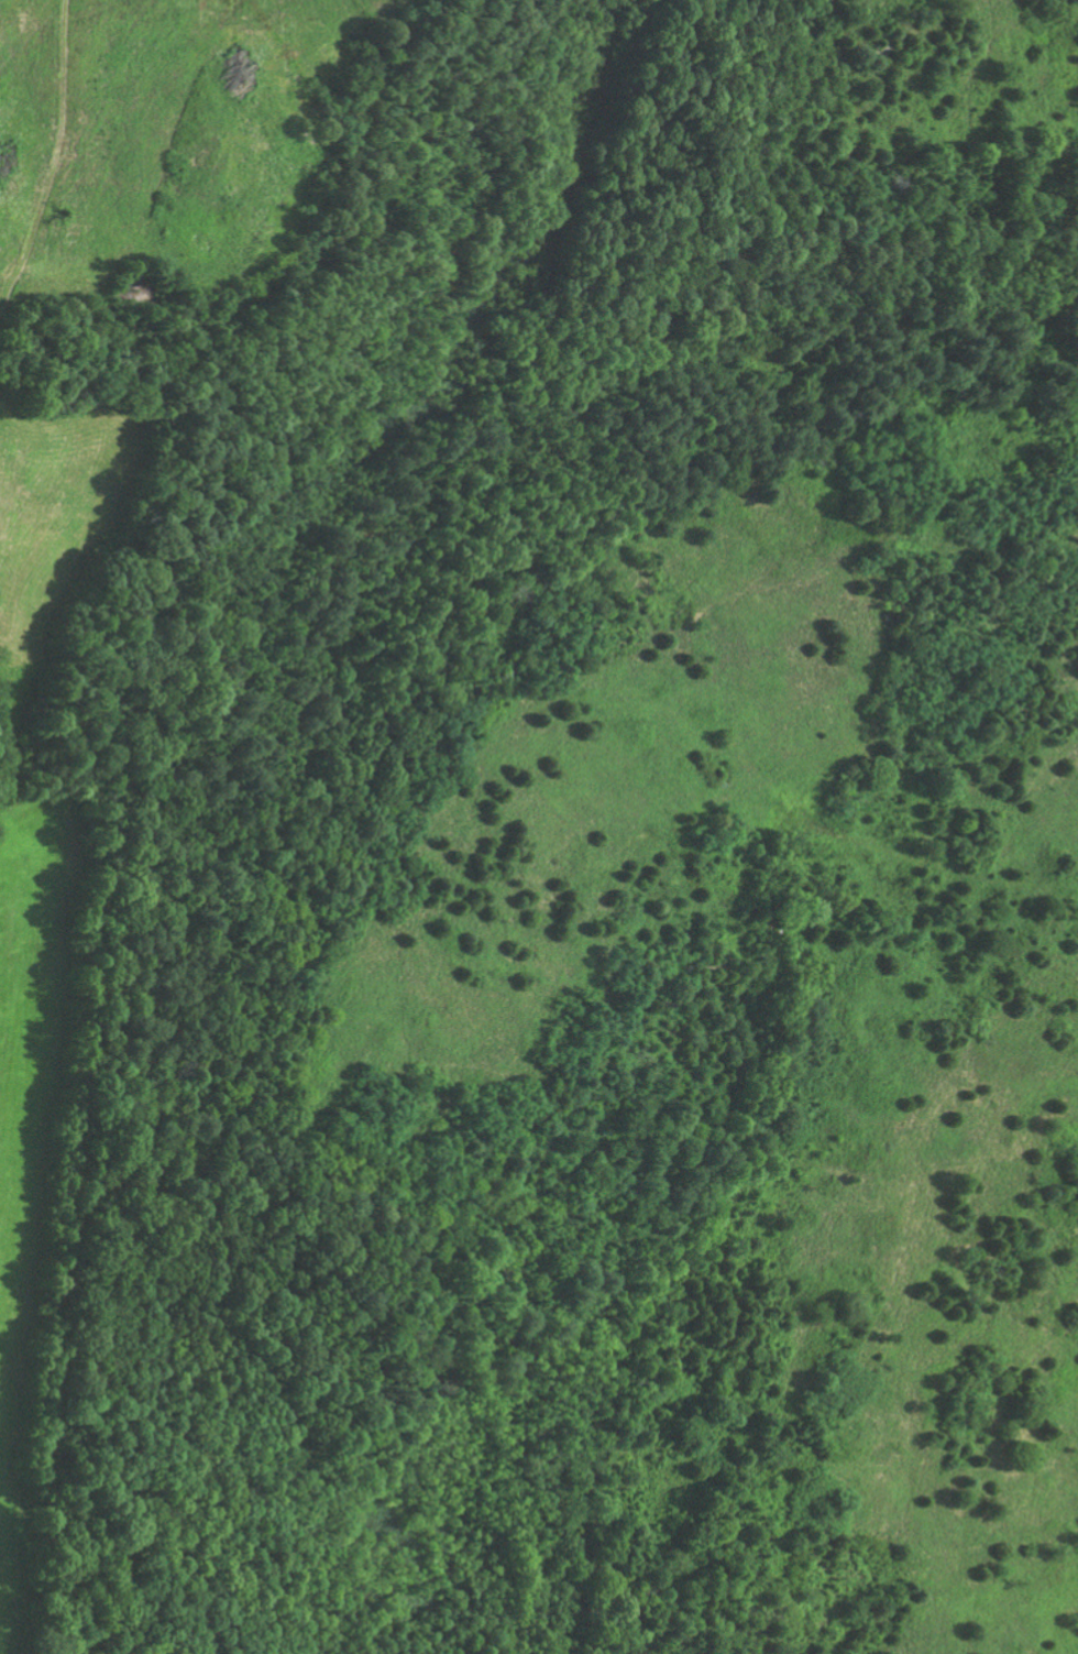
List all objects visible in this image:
road: (595, 1489)

